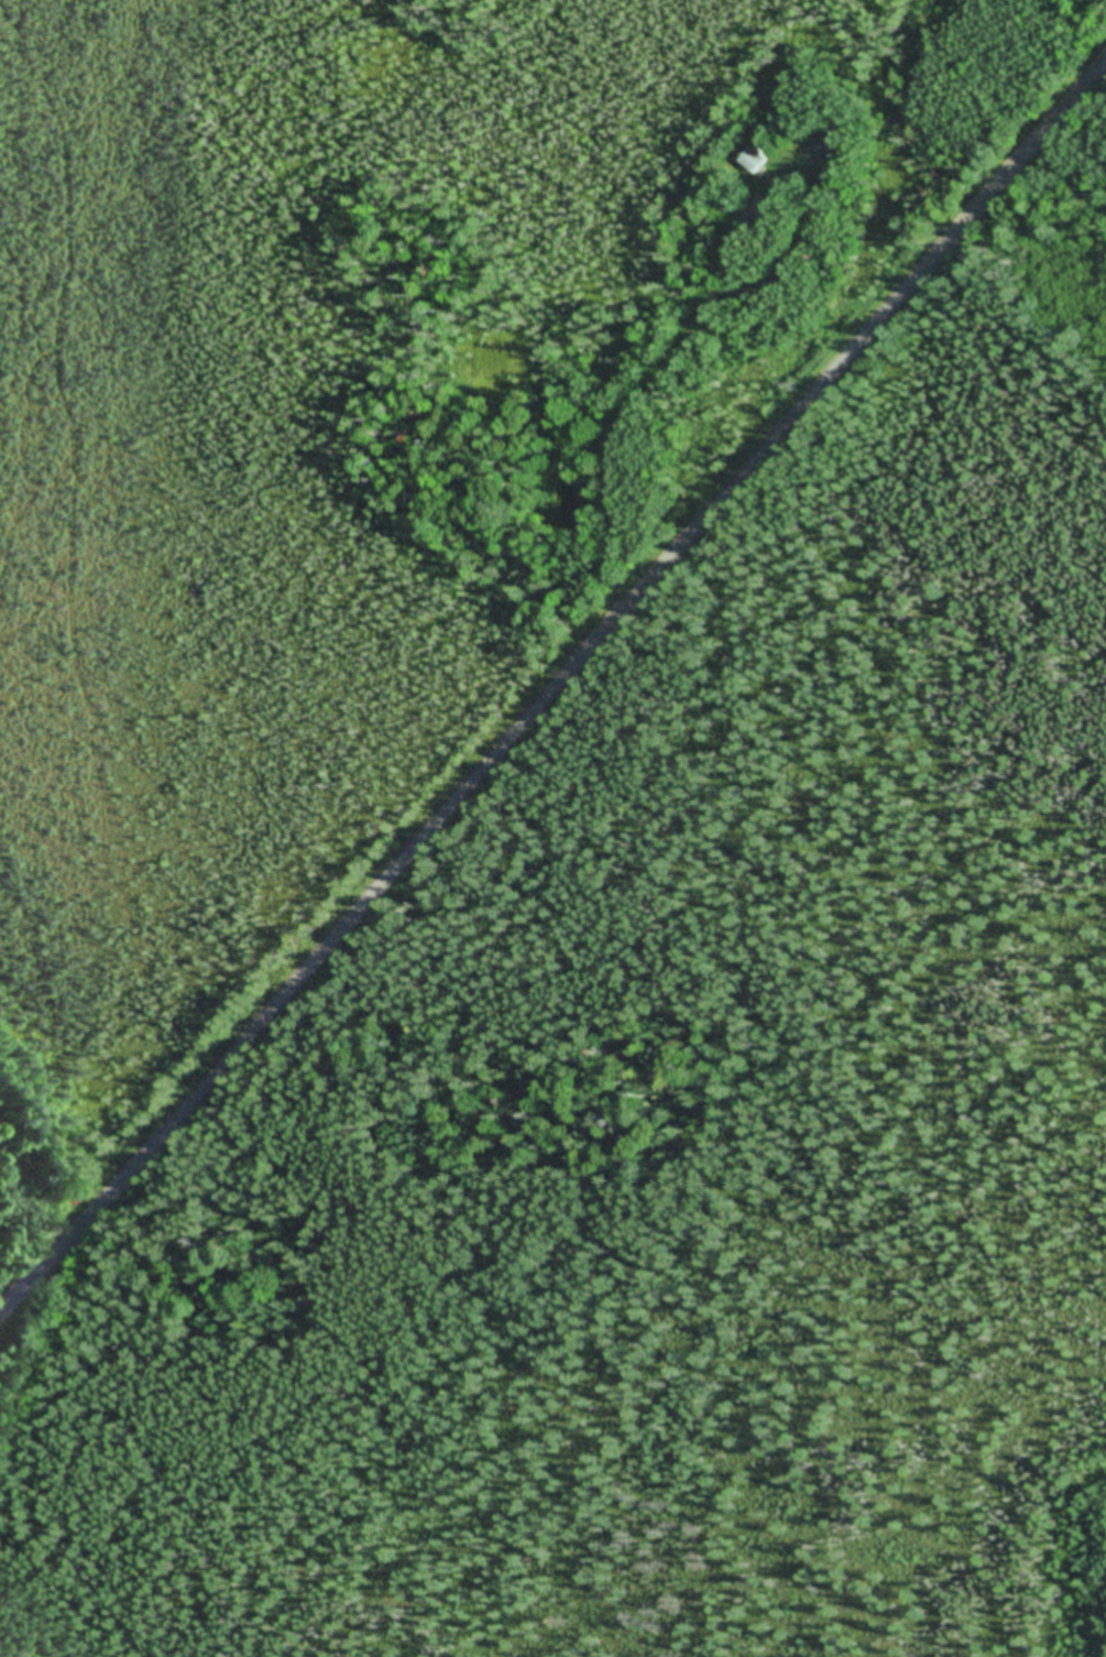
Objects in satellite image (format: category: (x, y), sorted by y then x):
building: (829, 143)
building: (752, 161)
road: (532, 647)

